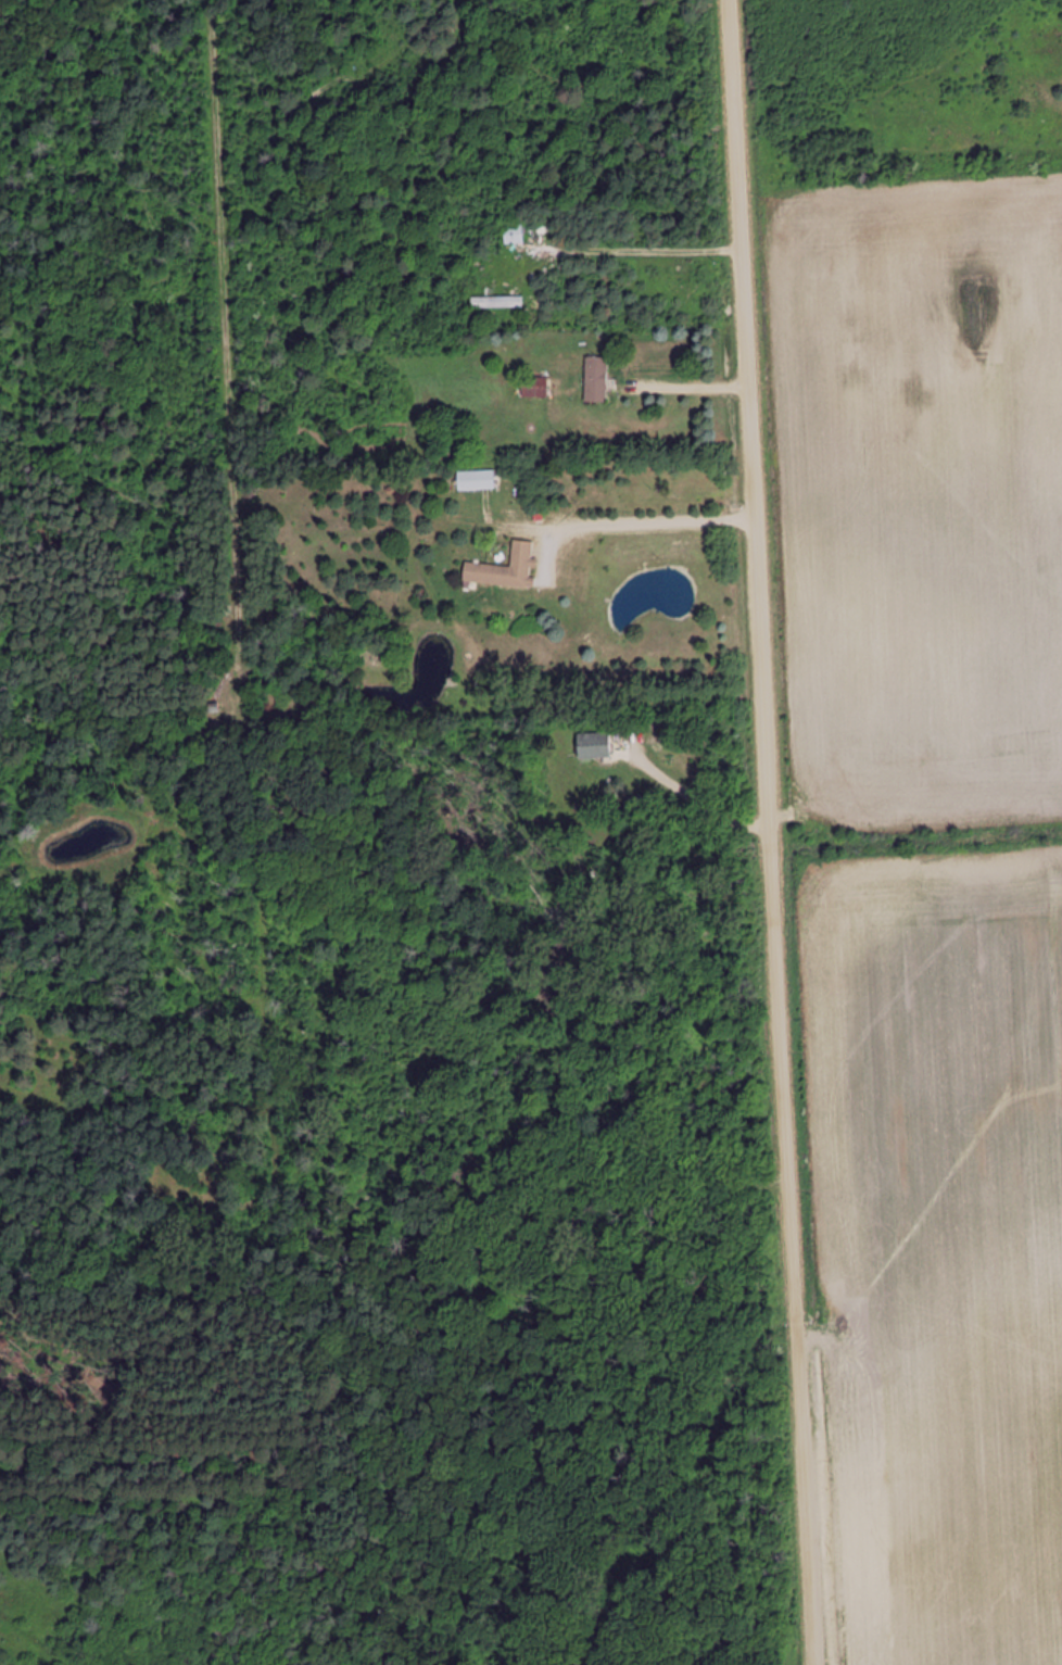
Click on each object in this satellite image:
building: (513, 236)
building: (595, 380)
building: (533, 388)
crop: (924, 471)
building: (475, 480)
building: (505, 569)
building: (594, 746)
road: (770, 832)

